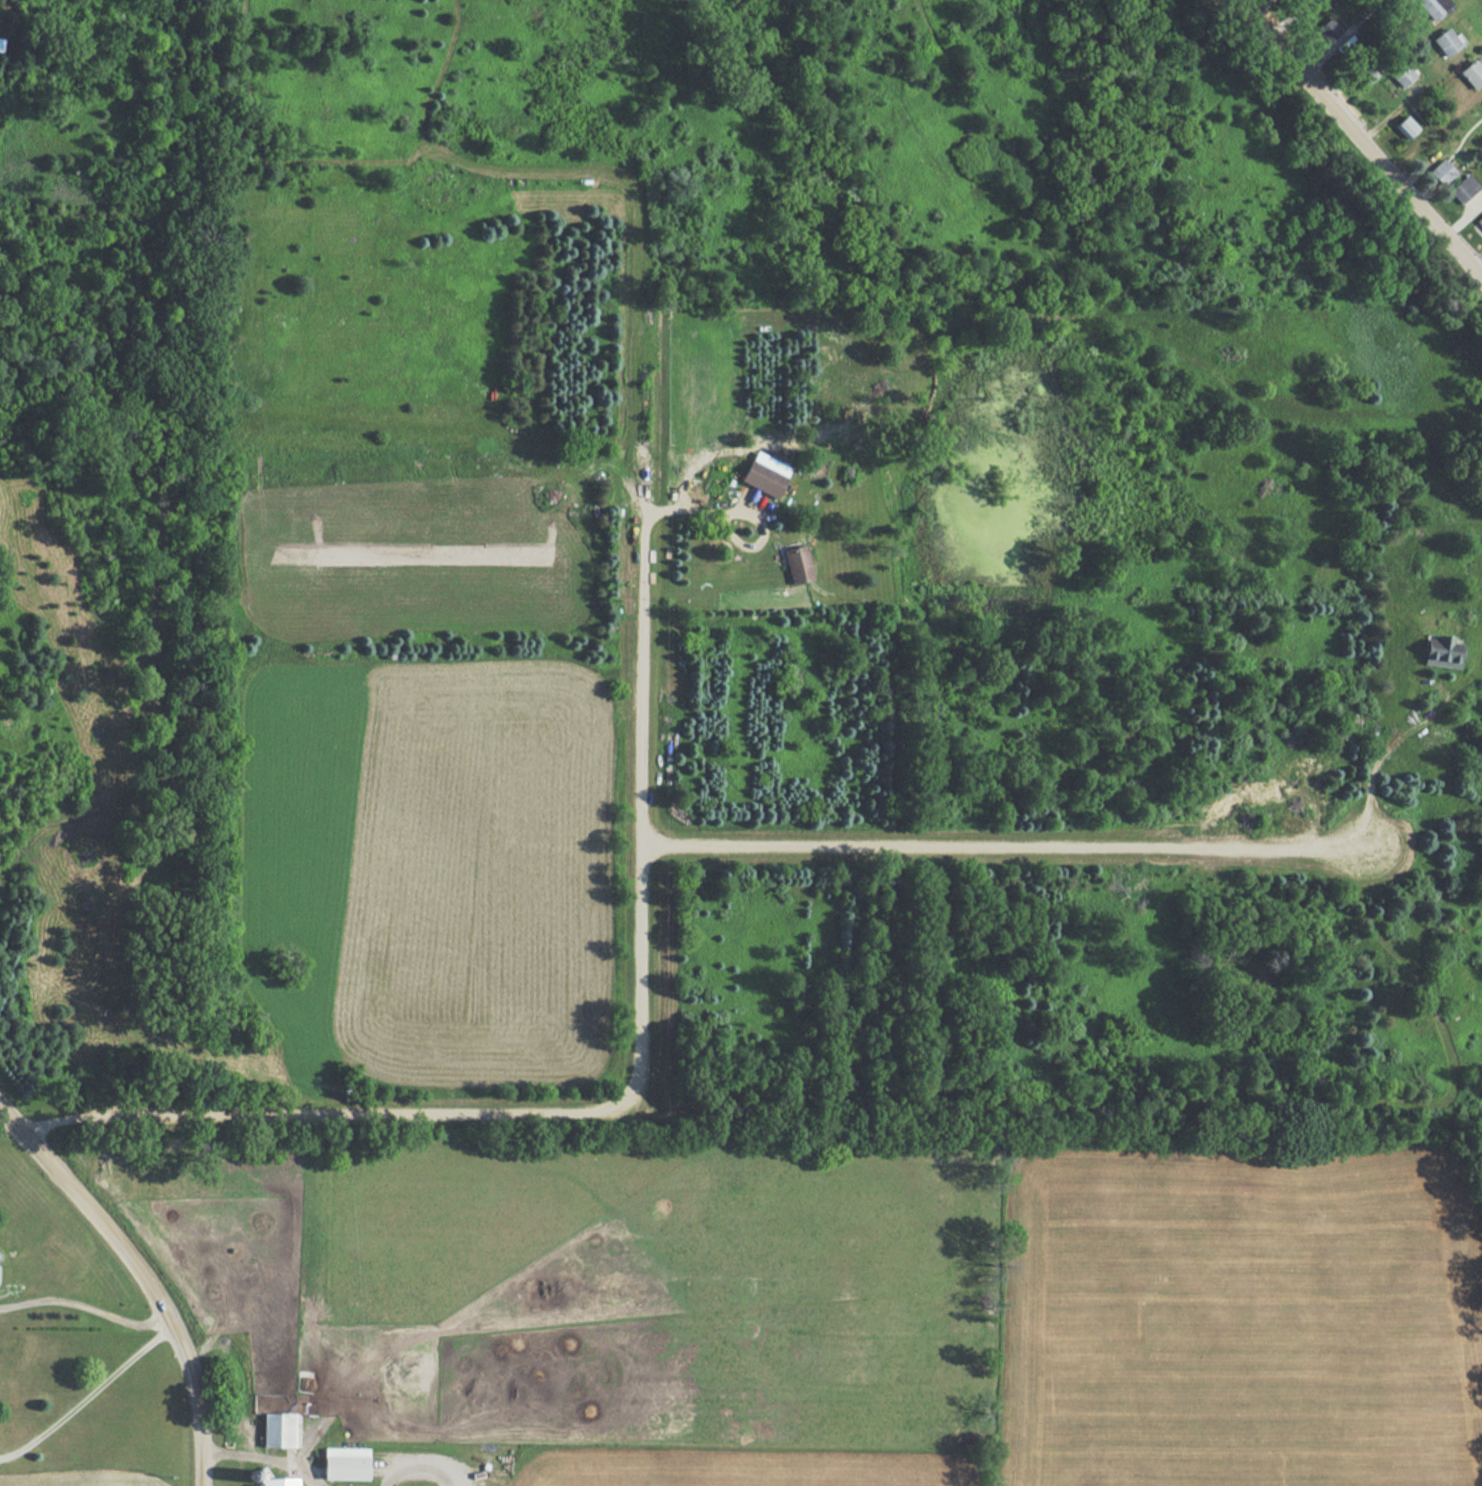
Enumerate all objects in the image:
building: (1432, 7)
road: (1260, 10)
road: (1288, 20)
building: (1329, 29)
building: (1446, 42)
building: (1472, 72)
building: (1367, 73)
building: (1402, 74)
road: (1405, 101)
building: (1406, 127)
road: (1356, 139)
building: (1442, 172)
building: (1463, 188)
building: (1479, 220)
building: (765, 474)
road: (742, 513)
building: (797, 564)
building: (1440, 651)
road: (992, 845)
road: (610, 1104)
road: (140, 1280)
road: (82, 1301)
road: (86, 1396)
building: (281, 1430)
road: (268, 1451)
building: (346, 1463)
building: (280, 1482)

